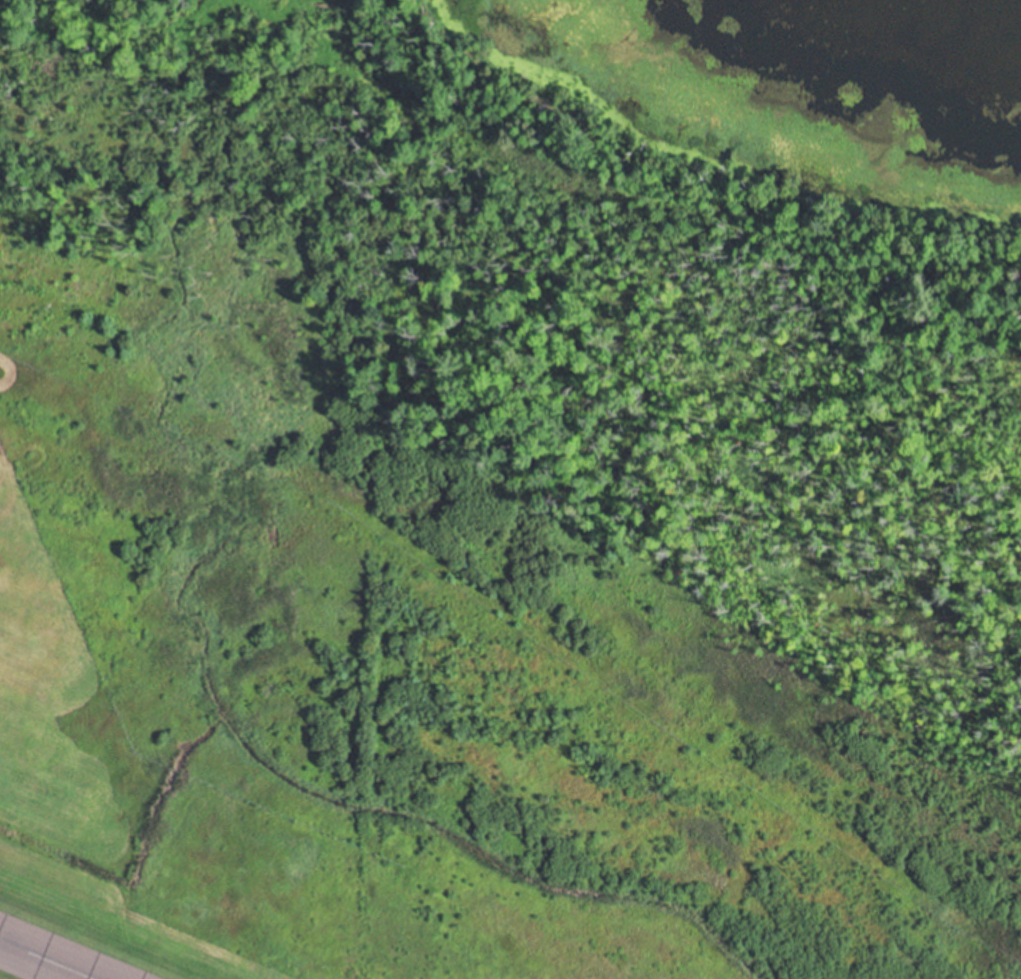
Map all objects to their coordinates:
airport: (370, 608)
airport runway: (49, 958)

